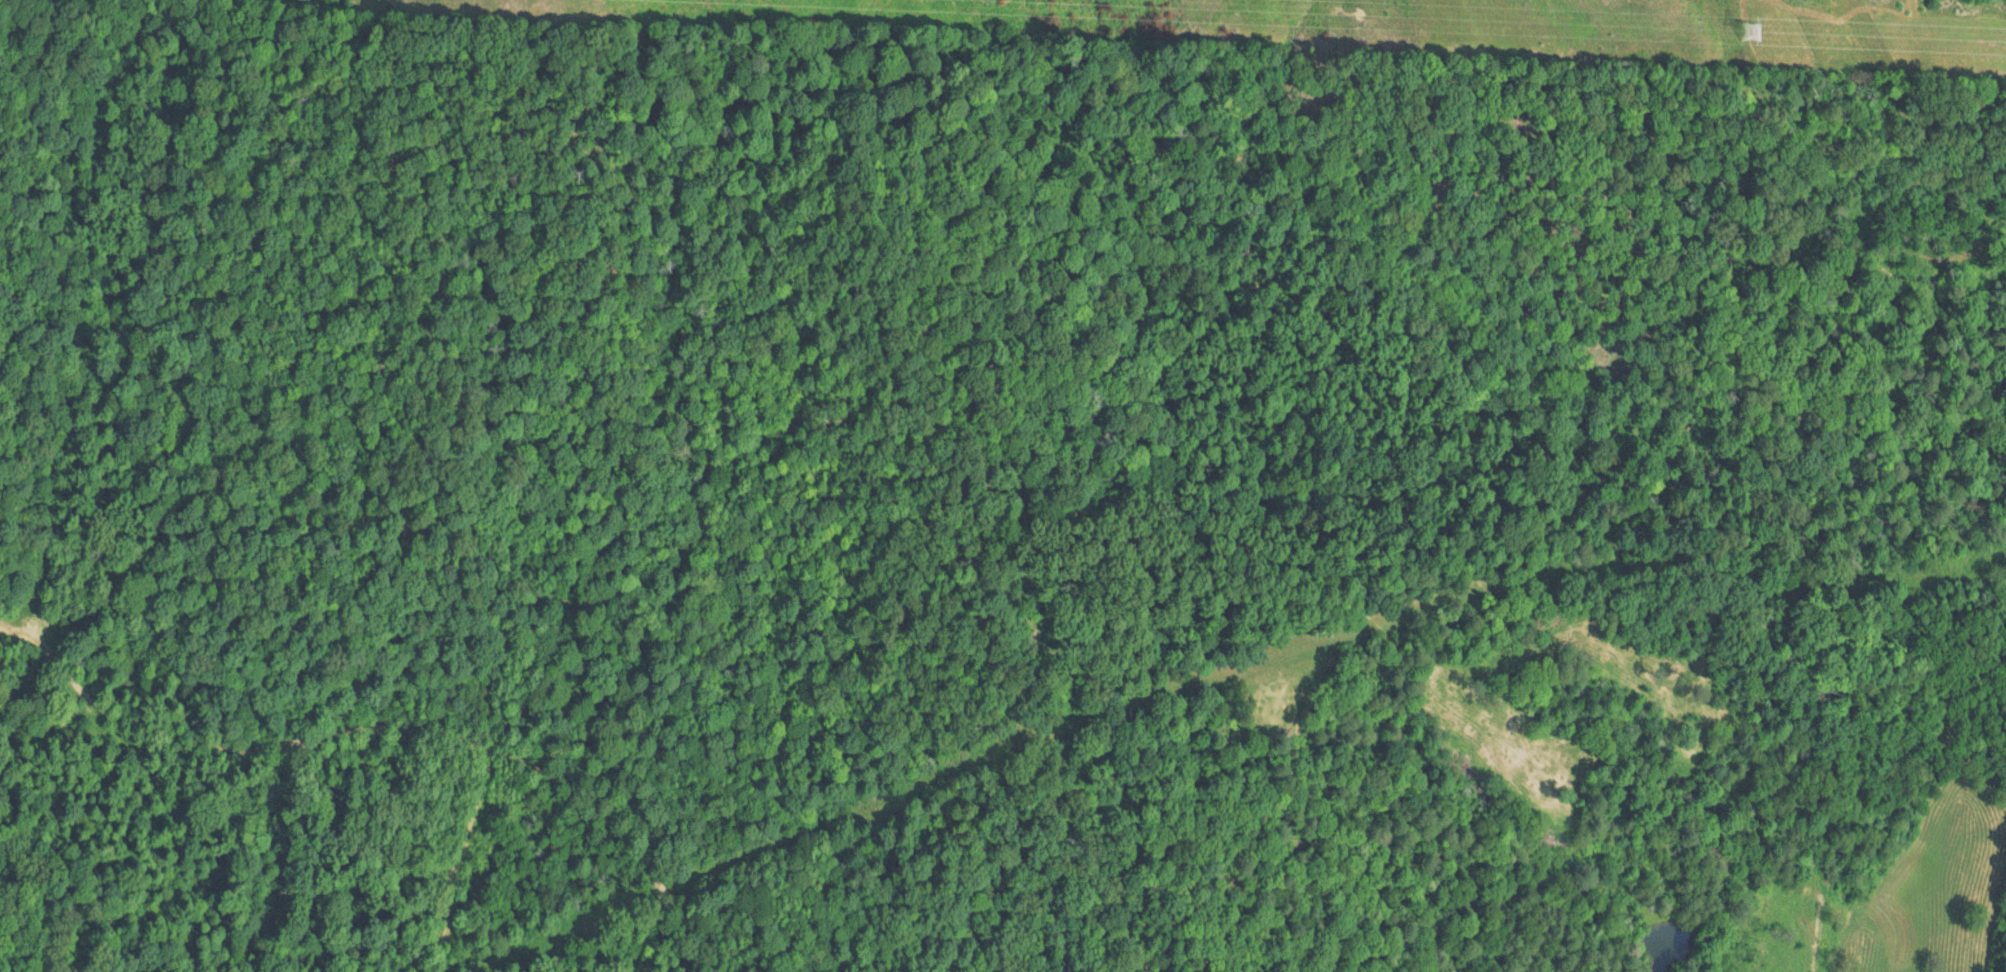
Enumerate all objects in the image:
road: (426, 732)

